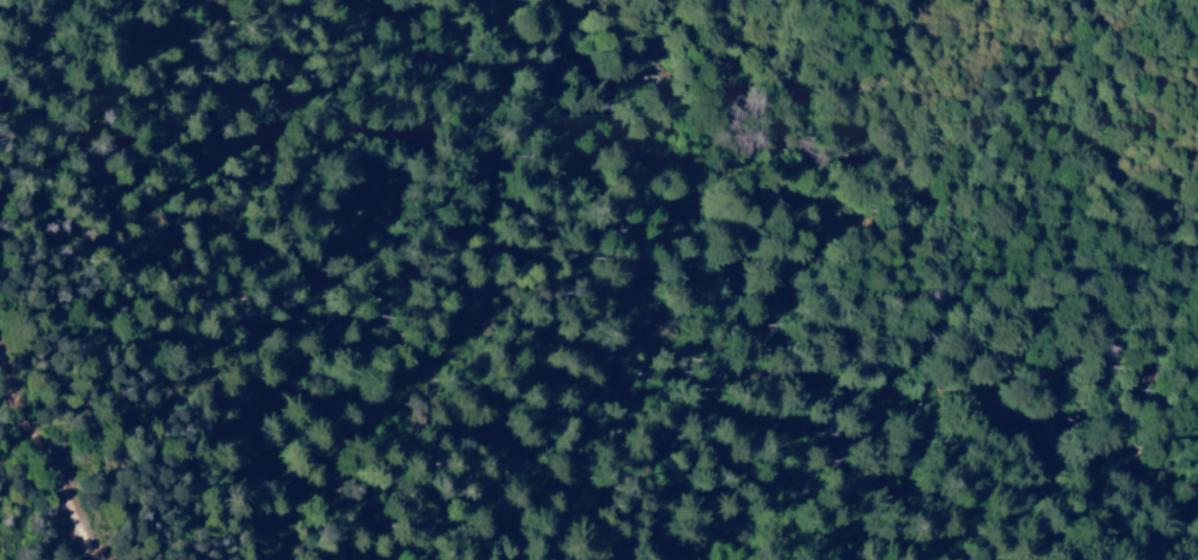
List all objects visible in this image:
road: (52, 475)

